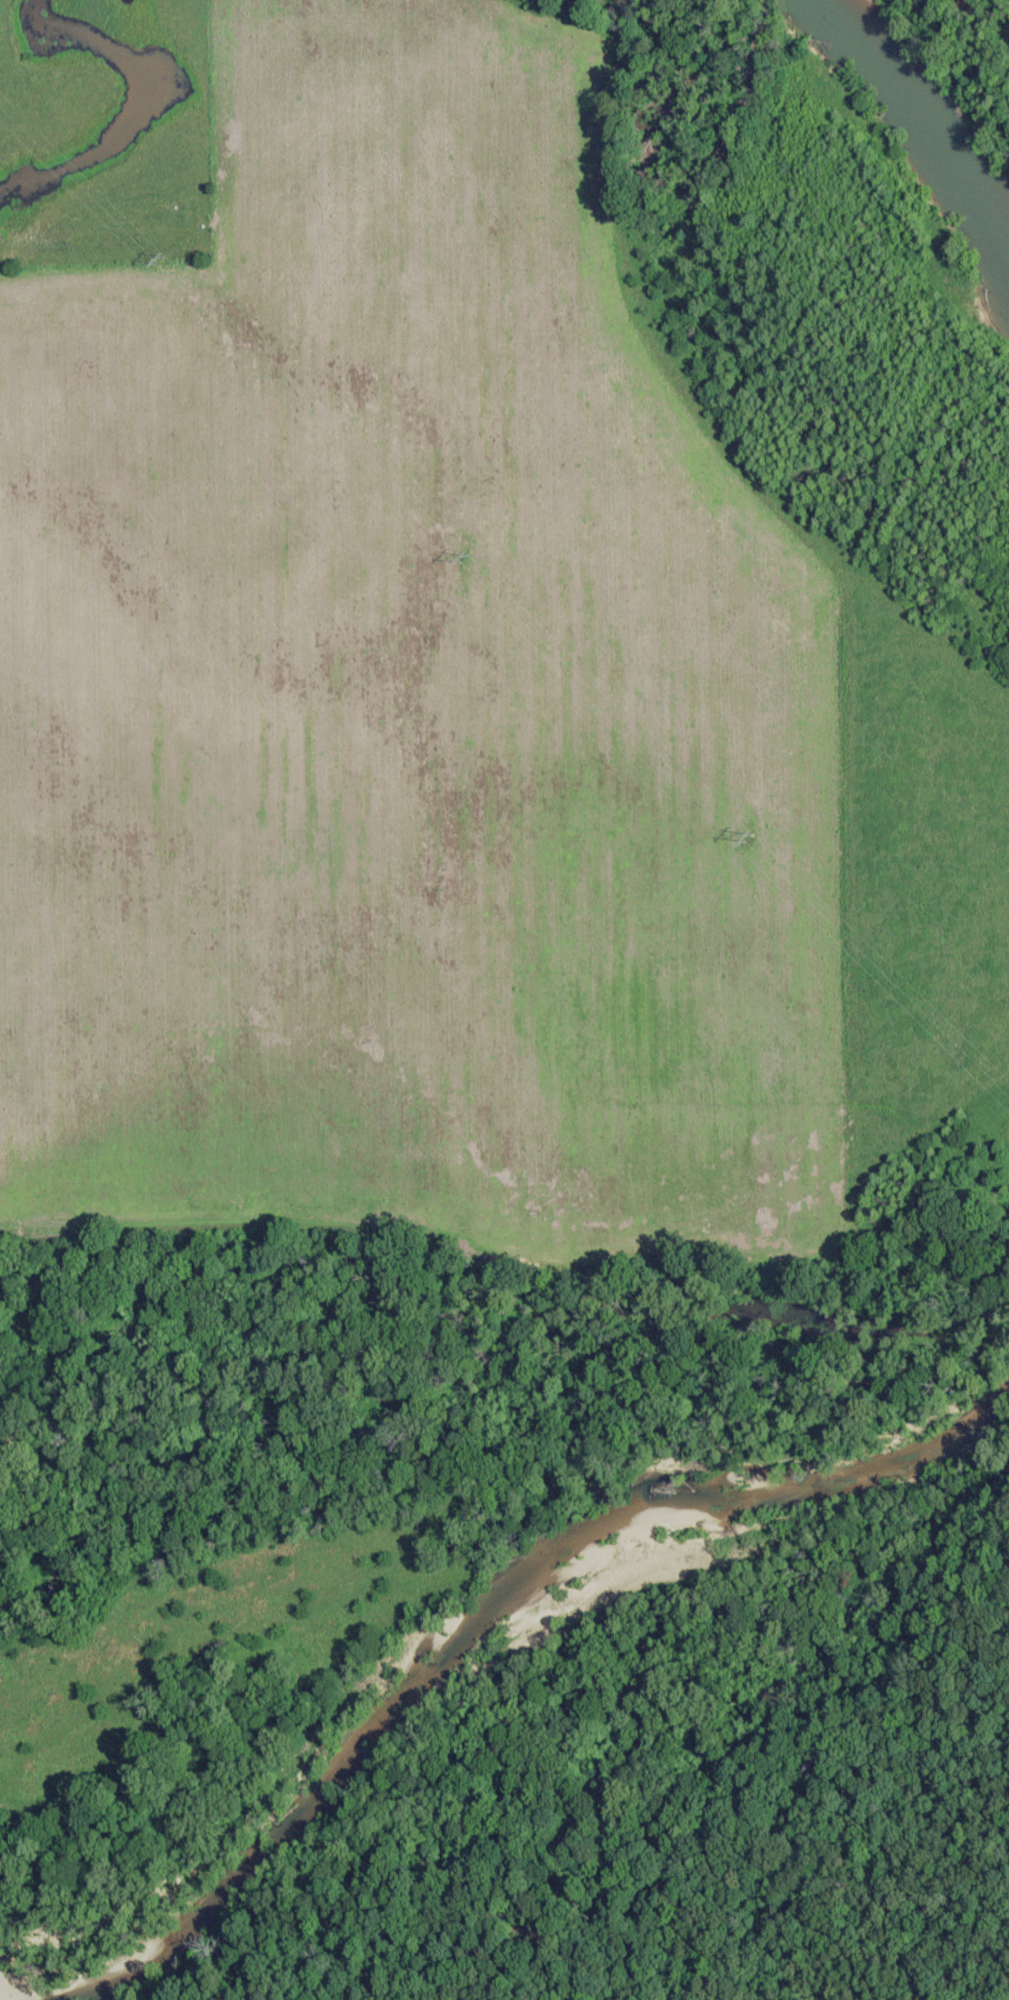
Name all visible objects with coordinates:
river: (930, 142)
power tower: (156, 254)
power tower: (455, 553)
power tower: (746, 839)

